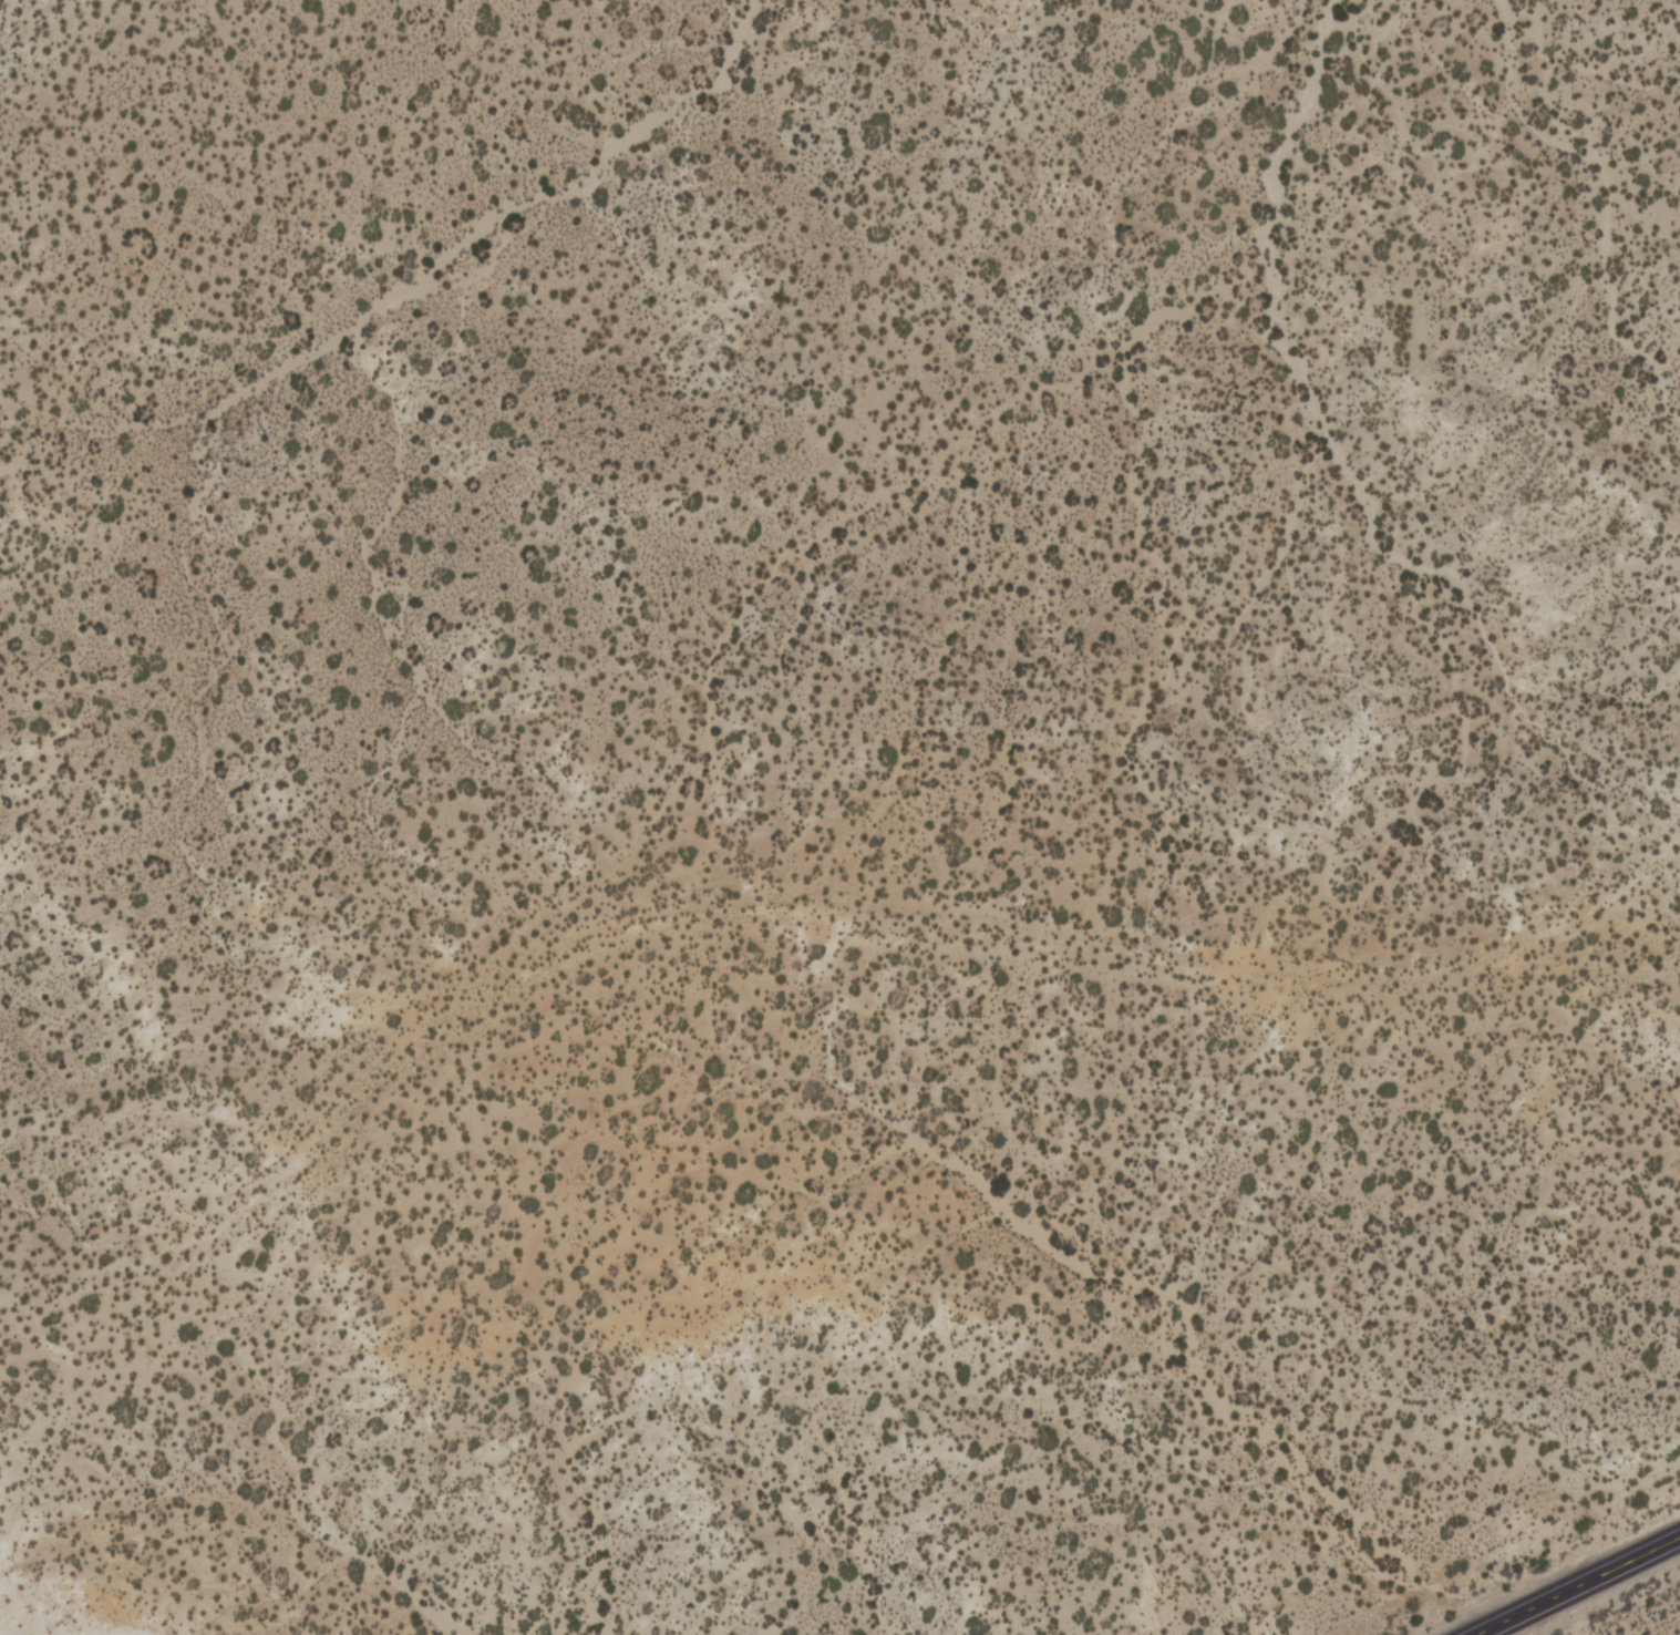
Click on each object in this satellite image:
road: (1574, 1584)

